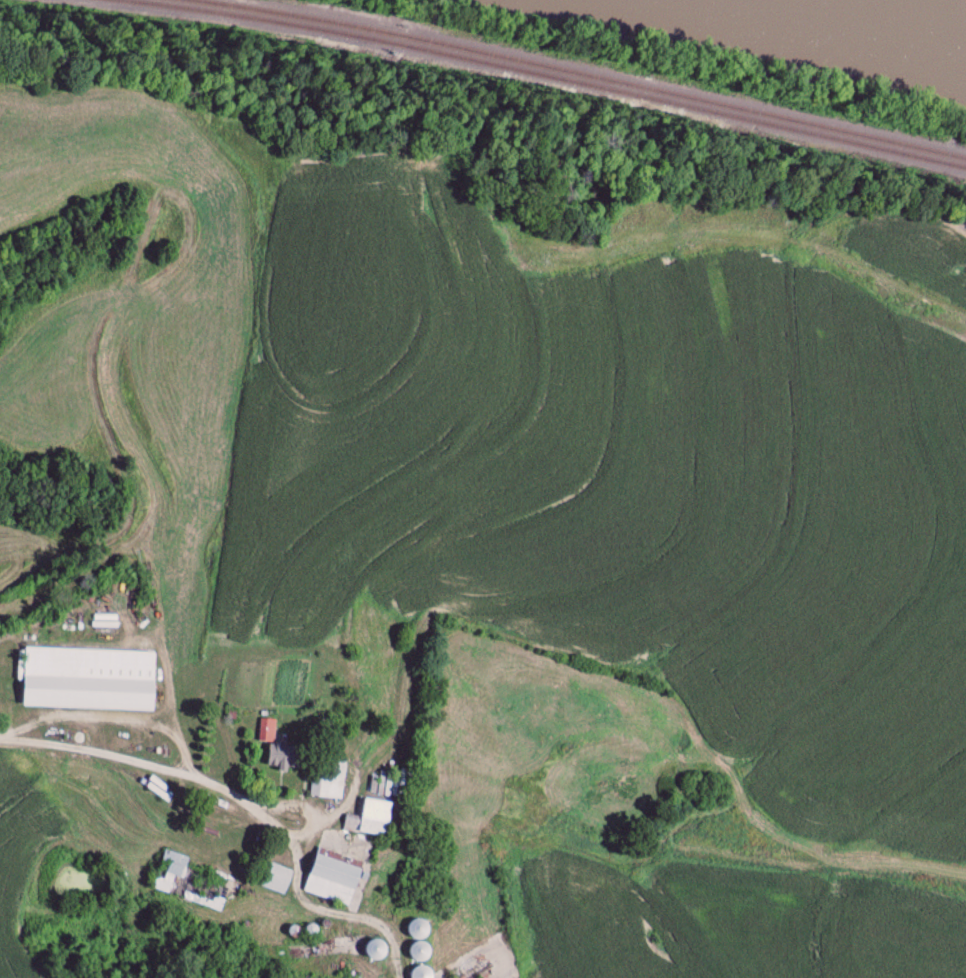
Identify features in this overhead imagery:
railway: (582, 72)
railway: (532, 74)
building: (88, 681)
road: (113, 720)
building: (279, 752)
road: (132, 761)
building: (330, 783)
building: (369, 820)
building: (332, 878)
building: (276, 880)
building: (190, 883)
building: (418, 942)
building: (375, 949)
building: (423, 974)

